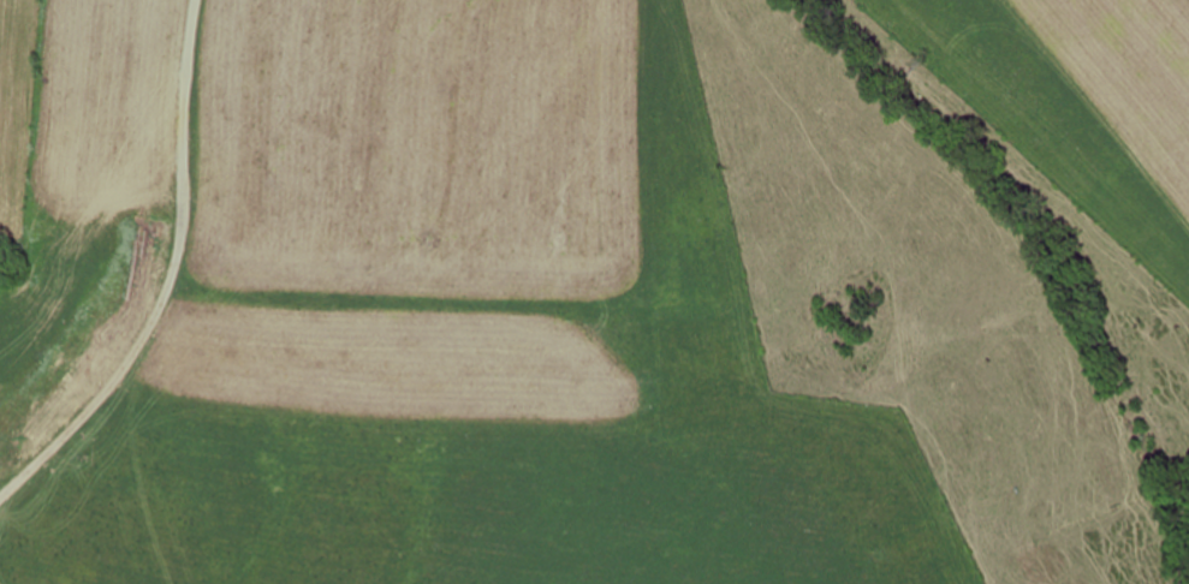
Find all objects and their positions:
road: (145, 246)

